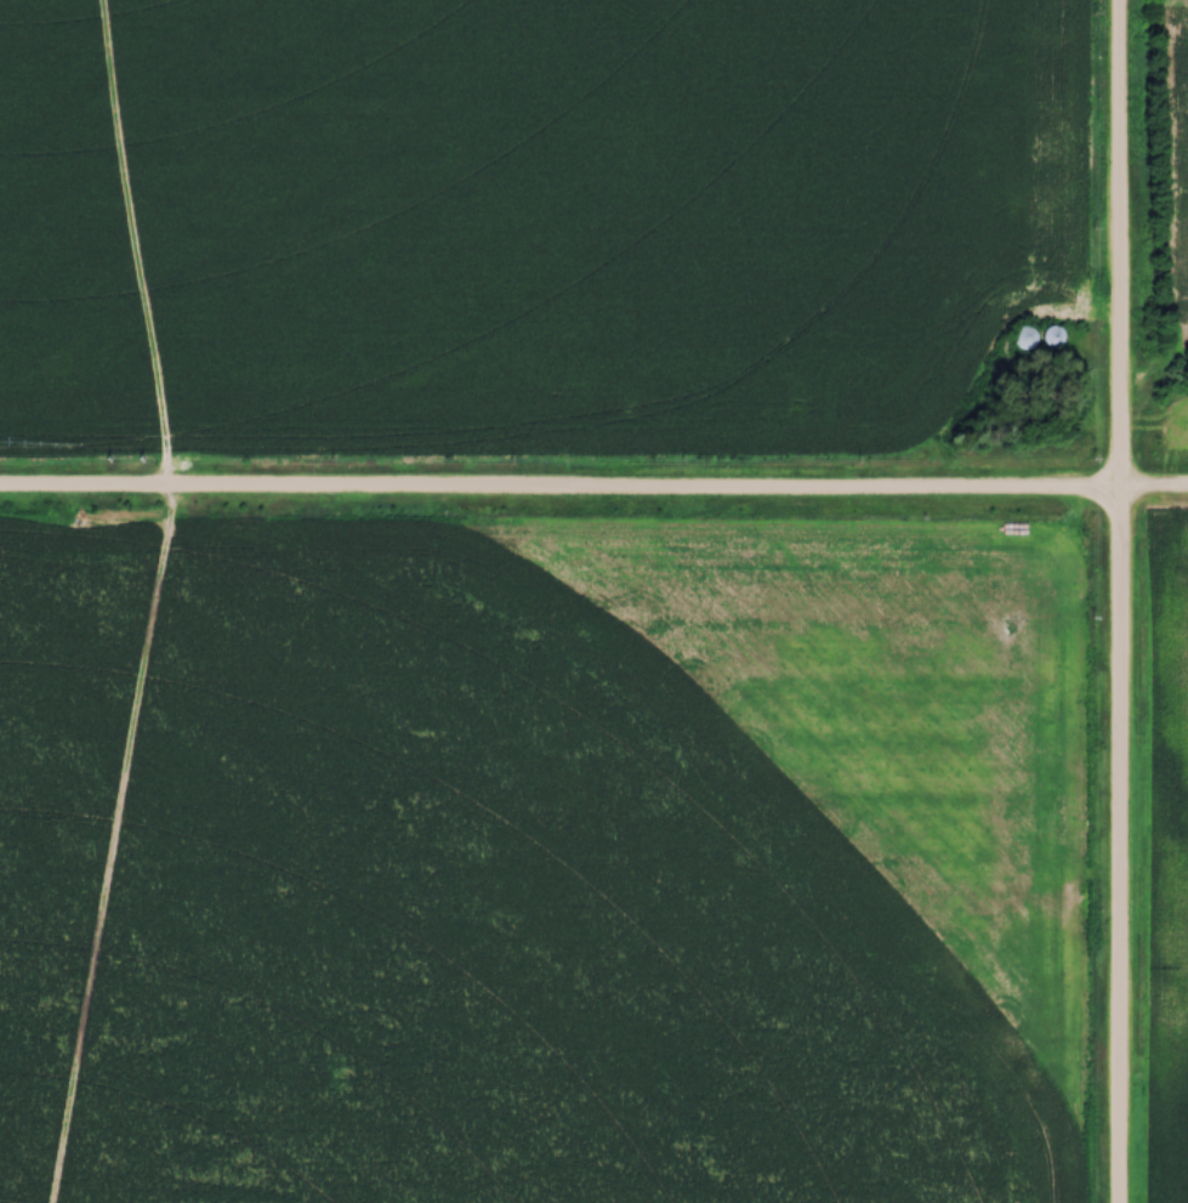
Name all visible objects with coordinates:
road: (1121, 246)
building: (1027, 339)
road: (561, 492)
road: (1155, 493)
road: (1120, 847)

